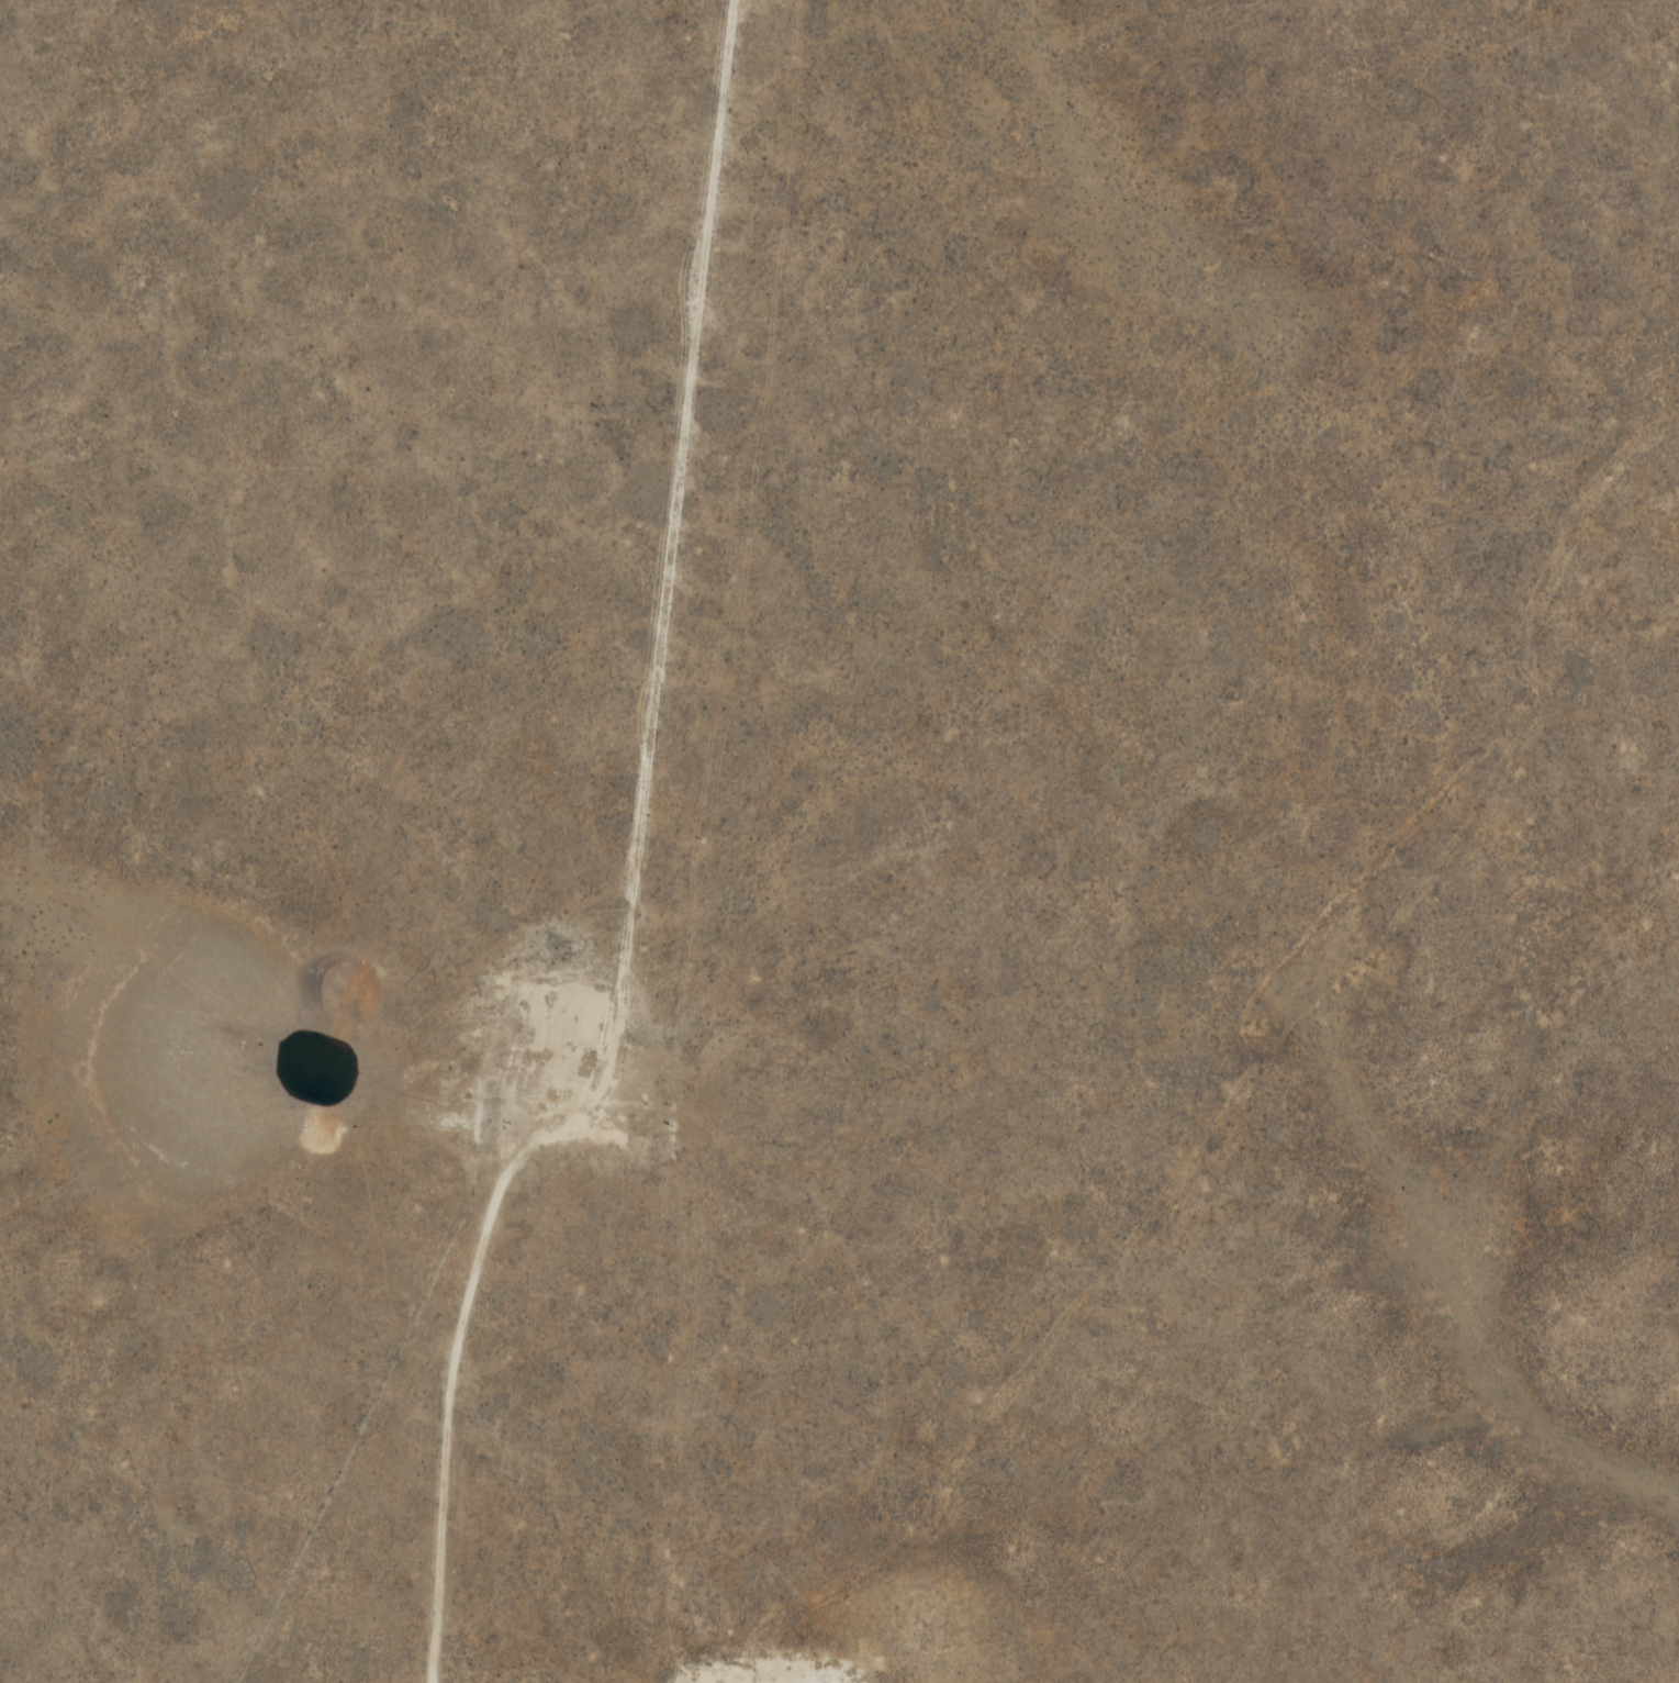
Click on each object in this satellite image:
road: (449, 1397)

